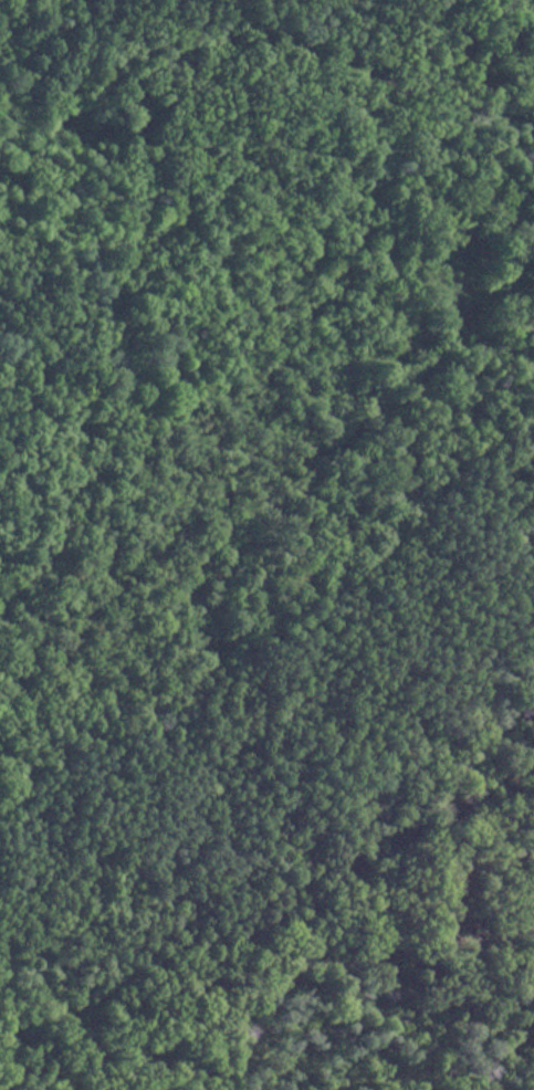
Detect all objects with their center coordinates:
park: (266, 545)

